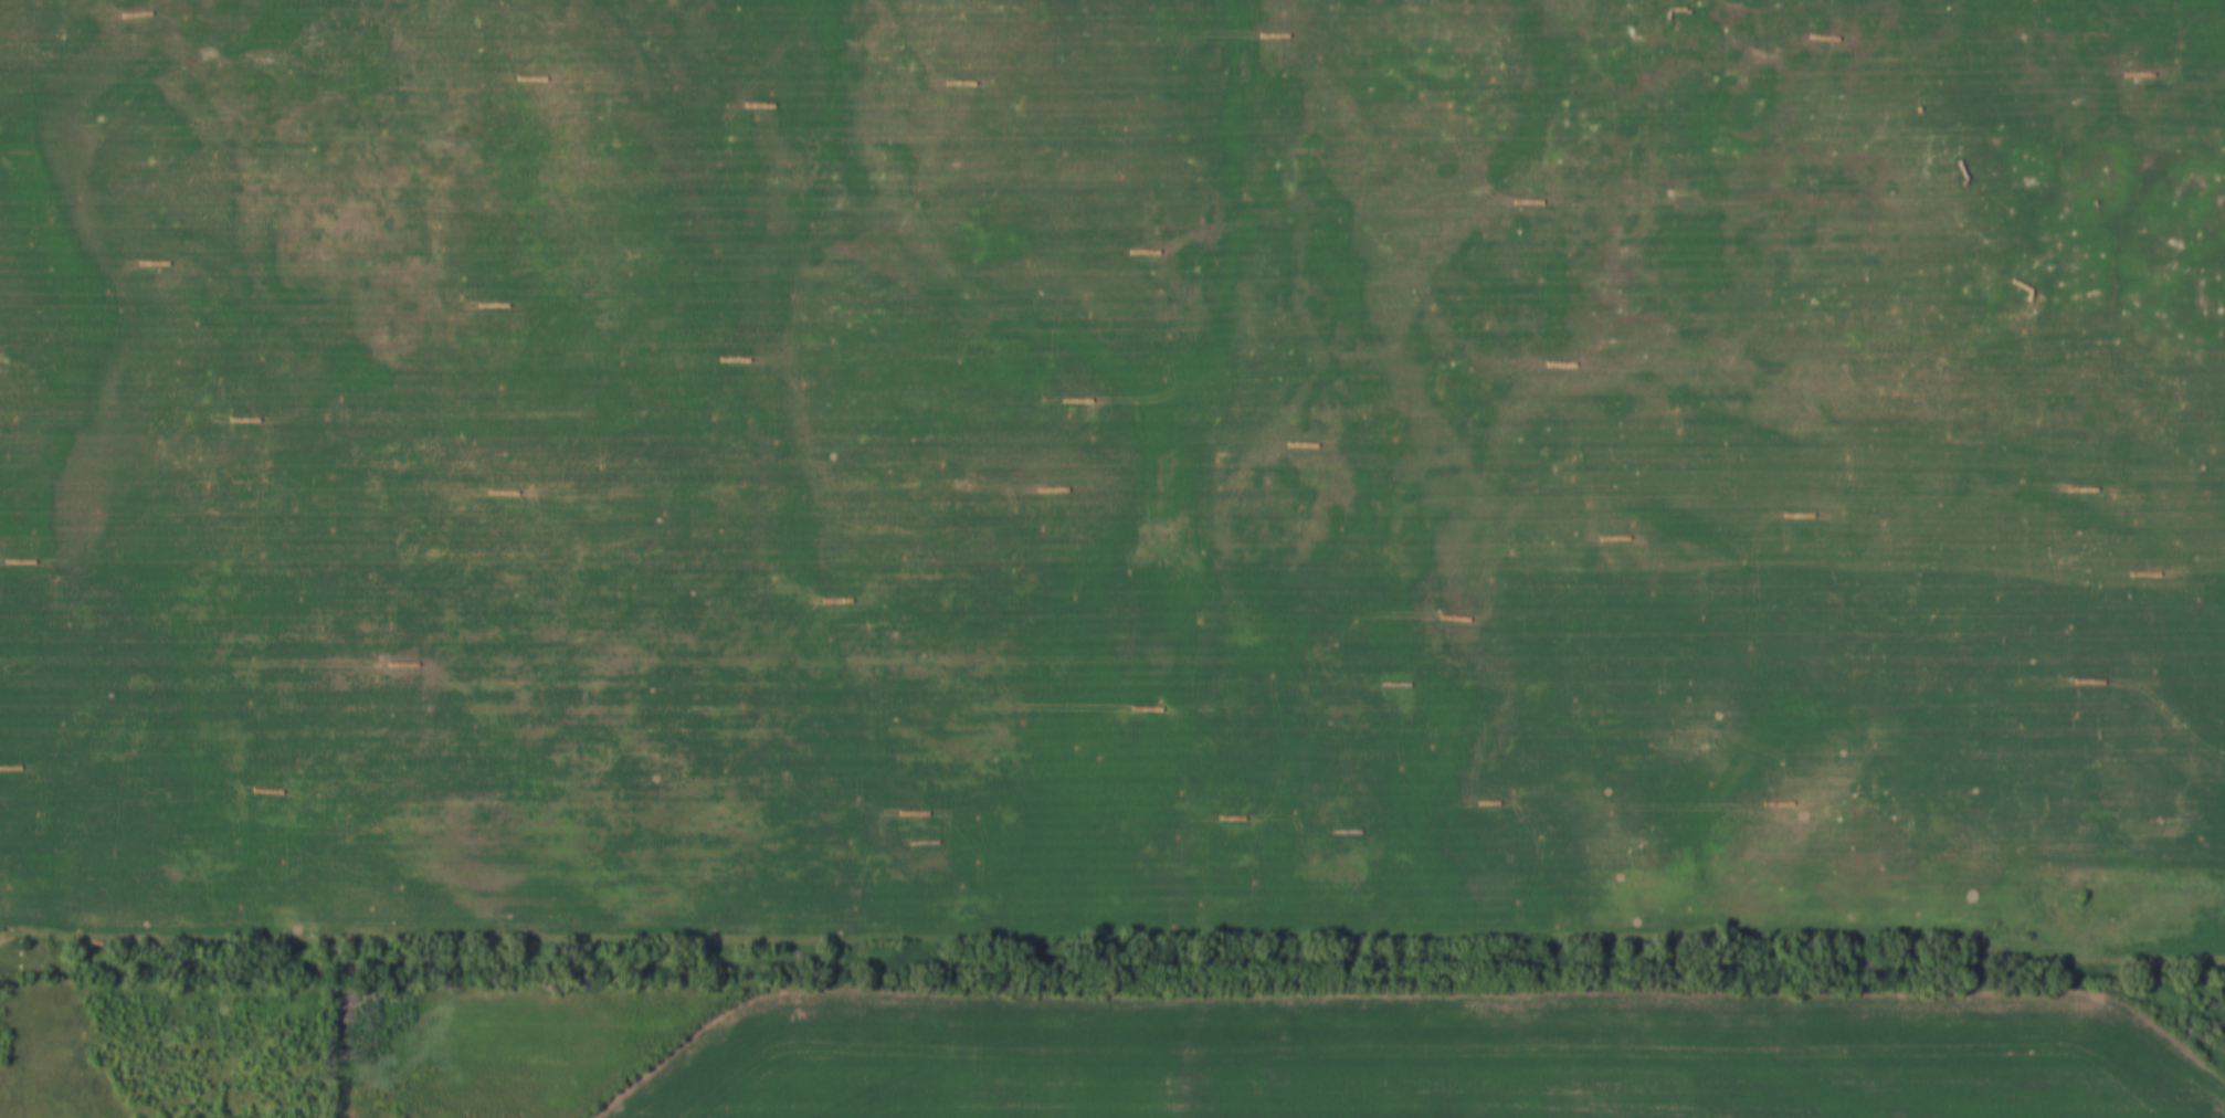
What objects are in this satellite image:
crop: (1406, 1059)

